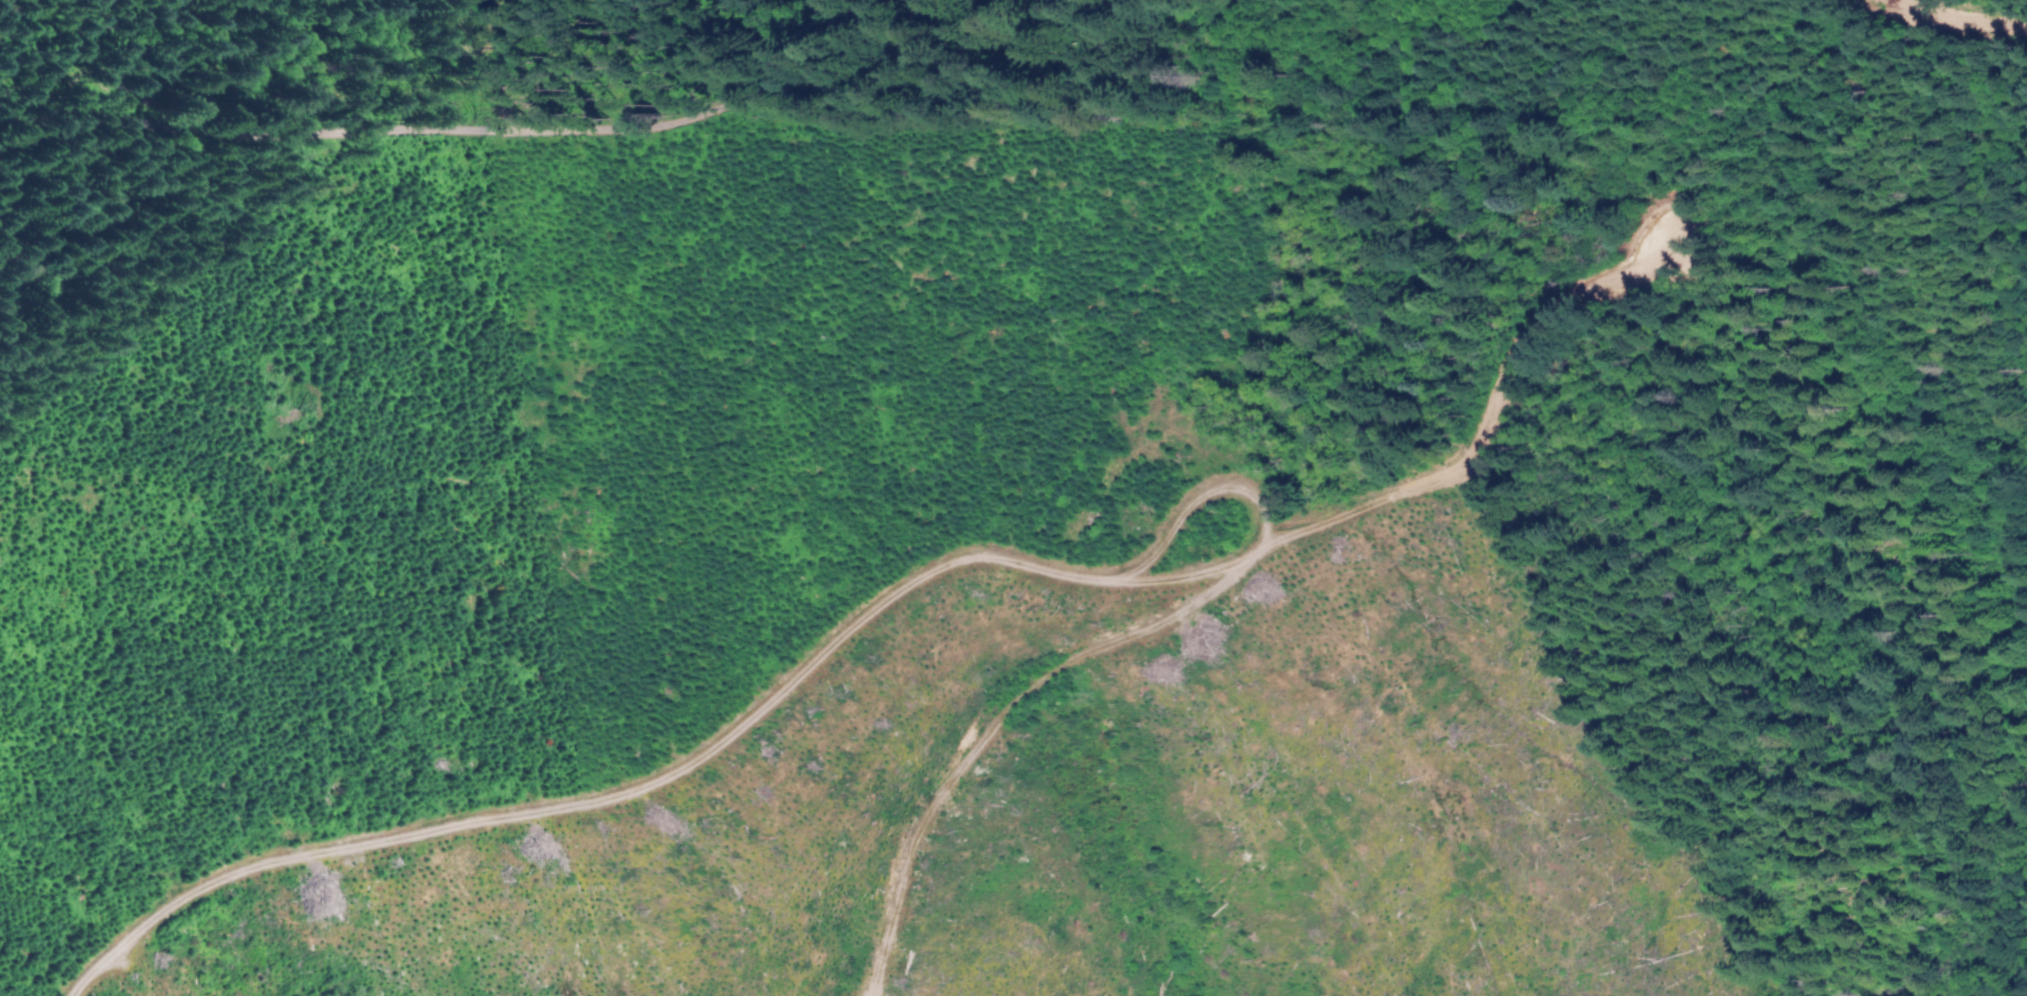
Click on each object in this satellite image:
road: (1981, 12)
road: (521, 126)
road: (1200, 495)
road: (878, 607)
road: (990, 735)

